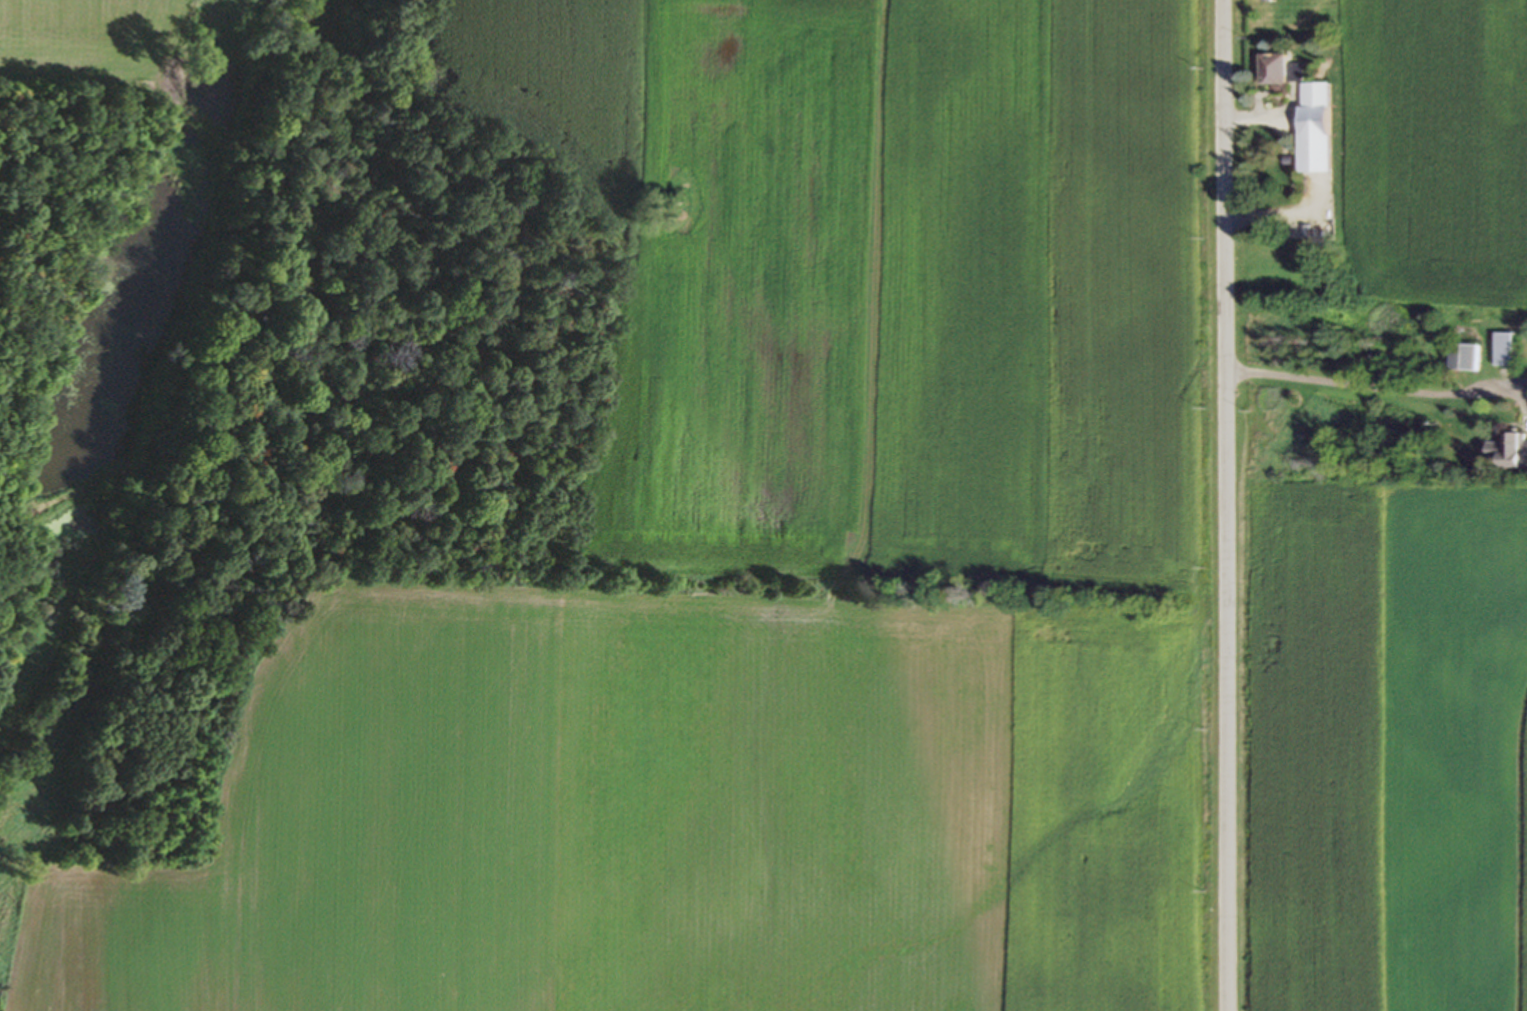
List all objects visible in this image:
building: (1277, 69)
building: (1312, 127)
building: (1502, 350)
building: (1462, 358)
road: (1378, 388)
building: (1508, 451)
road: (1229, 505)

